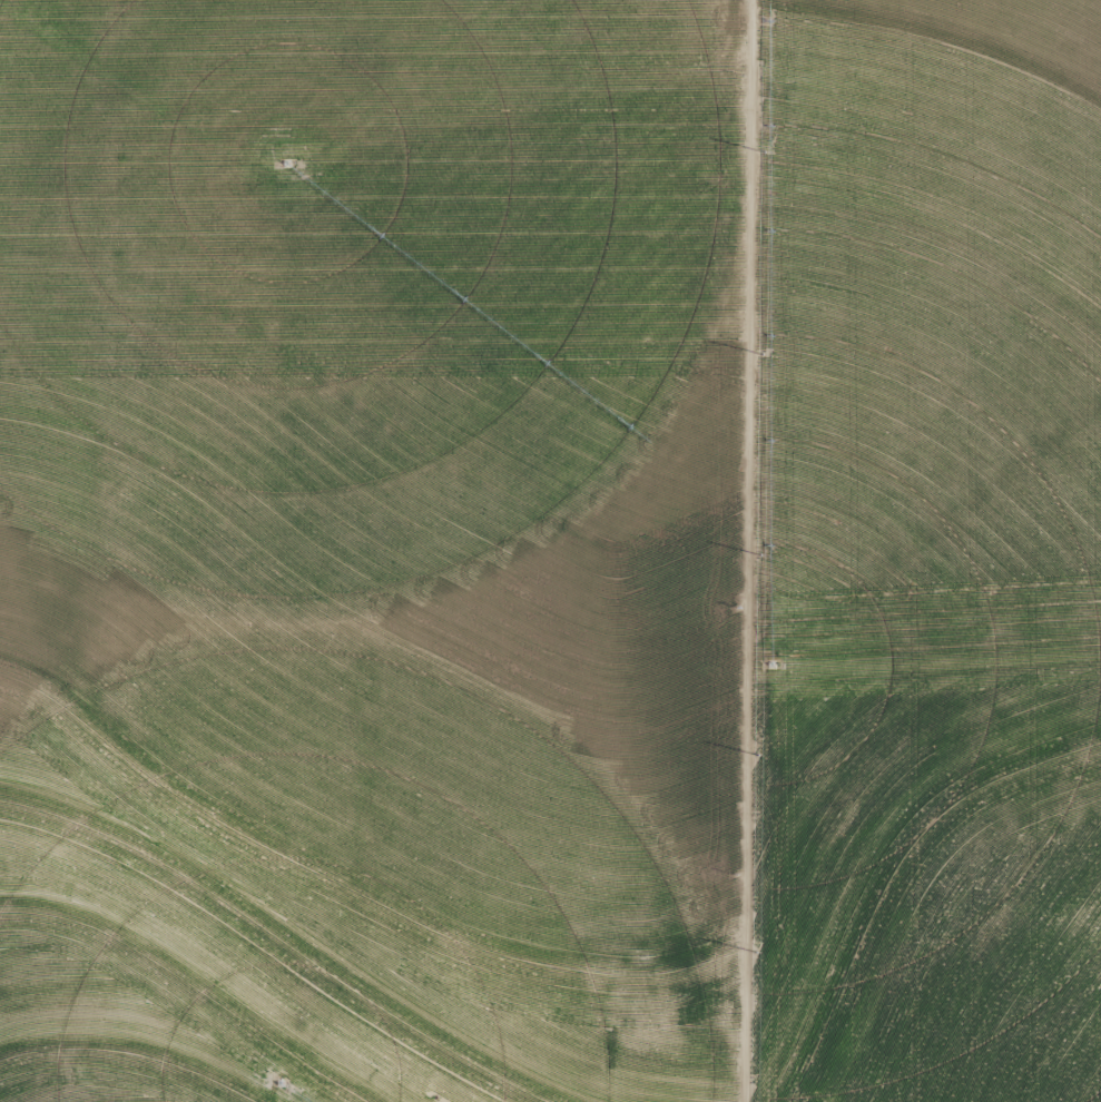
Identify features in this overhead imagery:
road: (766, 551)

